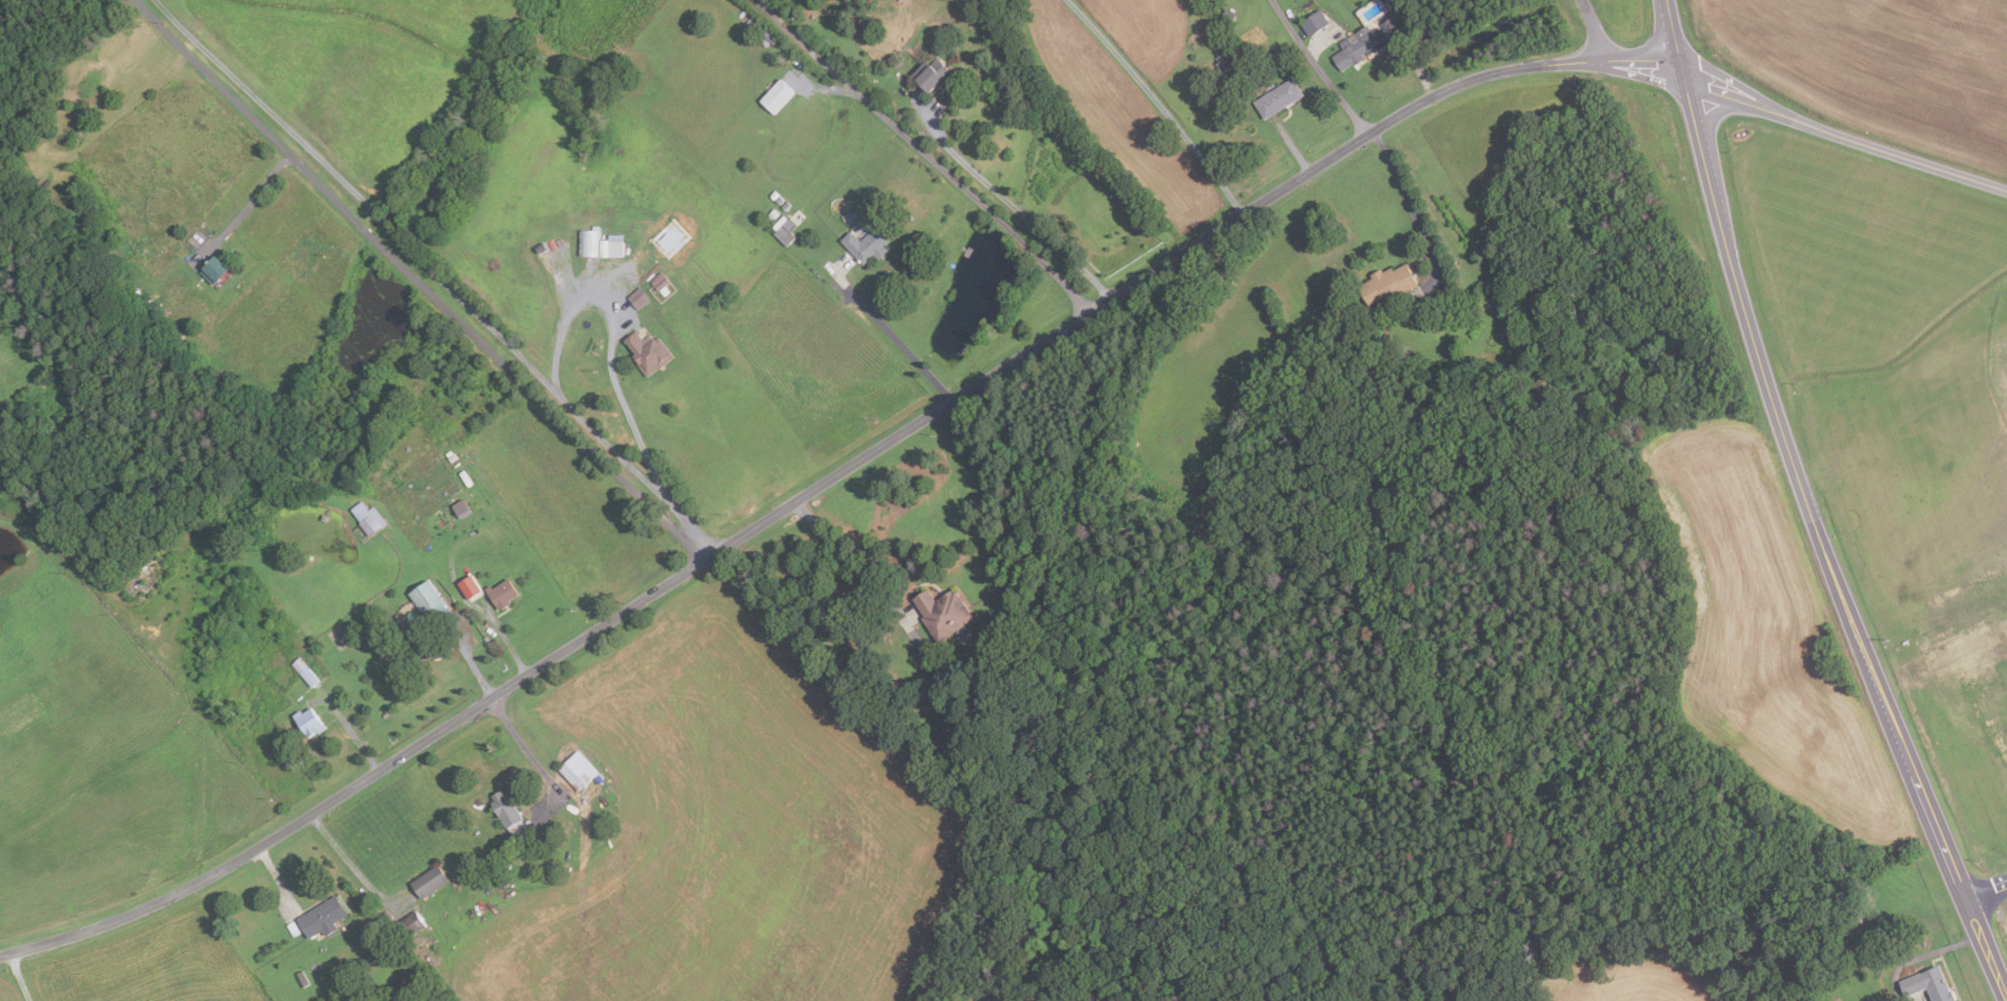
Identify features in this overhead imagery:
building: (900, 0)
building: (1226, 19)
building: (1313, 22)
road: (1591, 28)
road: (1660, 29)
road: (1674, 31)
building: (1365, 42)
road: (1622, 56)
road: (1662, 56)
crop: (1878, 66)
building: (1226, 67)
road: (1317, 68)
road: (1417, 68)
road: (1643, 72)
road: (1684, 73)
building: (932, 75)
road: (1744, 93)
road: (1713, 95)
building: (1278, 98)
building: (774, 99)
road: (1156, 104)
road: (1772, 115)
road: (1708, 120)
road: (1291, 147)
road: (925, 155)
road: (1906, 159)
building: (773, 194)
road: (251, 195)
building: (779, 199)
building: (785, 206)
road: (1017, 206)
road: (1414, 216)
building: (910, 217)
building: (784, 231)
building: (667, 239)
building: (868, 240)
building: (588, 242)
road: (405, 243)
building: (611, 245)
building: (220, 268)
road: (418, 281)
building: (660, 283)
building: (1386, 284)
building: (637, 298)
road: (622, 323)
road: (894, 339)
building: (648, 352)
road: (1161, 367)
building: (408, 448)
building: (450, 456)
building: (409, 485)
road: (800, 501)
building: (460, 508)
building: (416, 516)
building: (367, 518)
road: (685, 519)
road: (1828, 548)
building: (1171, 549)
road: (849, 559)
building: (468, 587)
building: (501, 594)
building: (430, 603)
building: (941, 613)
road: (503, 637)
building: (416, 646)
road: (1943, 655)
road: (471, 666)
building: (304, 672)
building: (307, 722)
road: (351, 732)
road: (522, 743)
building: (577, 771)
building: (507, 815)
building: (506, 865)
road: (354, 868)
road: (277, 878)
building: (428, 882)
road: (1986, 893)
building: (321, 918)
building: (407, 927)
building: (293, 929)
building: (314, 968)
road: (20, 977)
building: (302, 979)
building: (1926, 985)
crop: (7, 992)

